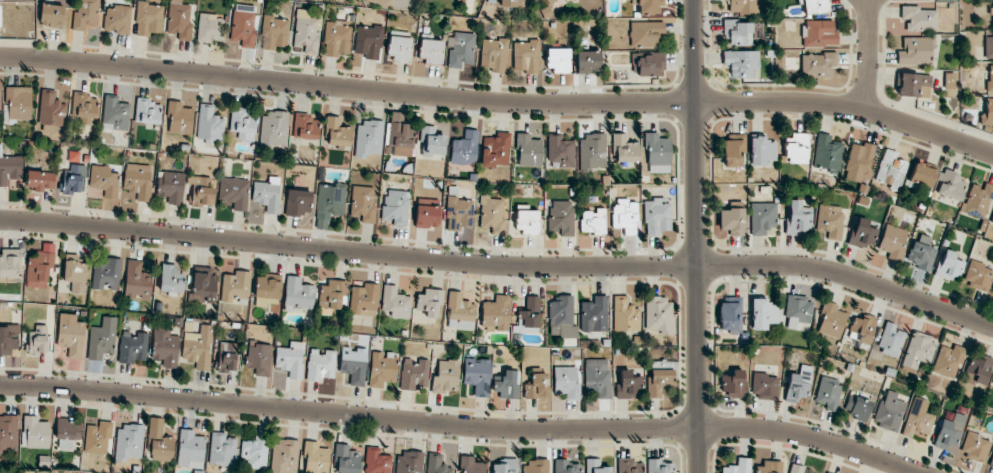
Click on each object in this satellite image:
building: (548, 1)
building: (509, 3)
building: (648, 6)
building: (742, 6)
building: (815, 6)
building: (51, 15)
building: (0, 16)
building: (86, 16)
building: (919, 18)
building: (117, 19)
building: (148, 19)
building: (180, 21)
building: (243, 27)
building: (210, 28)
building: (306, 32)
building: (737, 32)
building: (275, 33)
building: (645, 33)
building: (819, 33)
building: (337, 39)
building: (369, 41)
building: (988, 47)
building: (460, 49)
building: (430, 50)
building: (915, 51)
building: (494, 54)
building: (527, 56)
road: (868, 56)
building: (559, 59)
building: (588, 61)
building: (741, 63)
building: (818, 65)
building: (949, 80)
building: (990, 80)
building: (914, 84)
road: (499, 102)
building: (18, 103)
building: (84, 108)
building: (147, 111)
building: (50, 112)
building: (115, 114)
building: (987, 114)
building: (179, 119)
building: (243, 123)
building: (209, 124)
building: (305, 126)
building: (273, 129)
building: (337, 133)
building: (368, 138)
building: (401, 138)
building: (431, 142)
building: (796, 147)
building: (464, 148)
building: (624, 149)
building: (495, 150)
building: (528, 150)
building: (733, 150)
building: (560, 151)
building: (762, 151)
building: (592, 152)
building: (657, 153)
building: (828, 153)
building: (859, 162)
building: (10, 169)
building: (890, 169)
building: (922, 175)
building: (40, 180)
building: (72, 180)
building: (104, 180)
building: (138, 181)
building: (950, 185)
building: (170, 187)
building: (201, 191)
building: (234, 192)
building: (267, 194)
building: (977, 200)
building: (298, 202)
building: (329, 203)
building: (362, 203)
building: (395, 207)
building: (458, 213)
building: (492, 214)
building: (426, 215)
building: (561, 216)
building: (625, 216)
building: (656, 216)
building: (762, 217)
building: (799, 218)
building: (526, 220)
building: (830, 220)
building: (593, 221)
building: (731, 221)
building: (992, 222)
building: (862, 234)
road: (696, 236)
building: (892, 241)
building: (922, 252)
building: (9, 264)
building: (949, 265)
road: (500, 266)
building: (40, 267)
building: (75, 273)
building: (107, 275)
building: (977, 275)
building: (171, 280)
building: (137, 281)
building: (203, 284)
building: (235, 286)
building: (267, 290)
building: (992, 290)
building: (298, 294)
building: (332, 294)
building: (364, 298)
building: (395, 302)
building: (427, 303)
building: (460, 312)
building: (763, 313)
building: (798, 313)
building: (496, 314)
building: (625, 314)
building: (731, 314)
building: (594, 315)
building: (659, 315)
building: (529, 316)
building: (561, 317)
building: (831, 320)
building: (861, 328)
building: (70, 335)
building: (102, 339)
building: (890, 339)
building: (7, 340)
building: (38, 340)
building: (165, 347)
building: (198, 347)
building: (132, 348)
building: (919, 349)
building: (226, 357)
building: (258, 358)
building: (290, 359)
building: (948, 361)
building: (353, 364)
building: (320, 365)
building: (381, 368)
building: (978, 369)
building: (413, 374)
building: (445, 375)
building: (477, 375)
building: (597, 377)
building: (659, 378)
building: (566, 381)
building: (732, 382)
building: (992, 383)
building: (798, 384)
building: (507, 385)
building: (628, 385)
building: (536, 386)
building: (764, 386)
building: (828, 393)
building: (857, 407)
building: (889, 412)
building: (918, 422)
road: (462, 424)
building: (155, 428)
building: (949, 431)
building: (35, 433)
building: (8, 434)
building: (97, 439)
building: (128, 443)
building: (974, 446)
building: (190, 448)
building: (161, 449)
building: (222, 450)
building: (255, 452)
building: (284, 457)
building: (316, 458)
building: (346, 460)
building: (376, 461)
building: (408, 462)
building: (991, 462)
building: (436, 464)
building: (470, 465)
building: (536, 466)
building: (565, 466)
building: (596, 466)
building: (629, 466)
building: (659, 466)
building: (738, 466)
building: (769, 466)
building: (505, 467)
building: (797, 469)
building: (827, 472)

